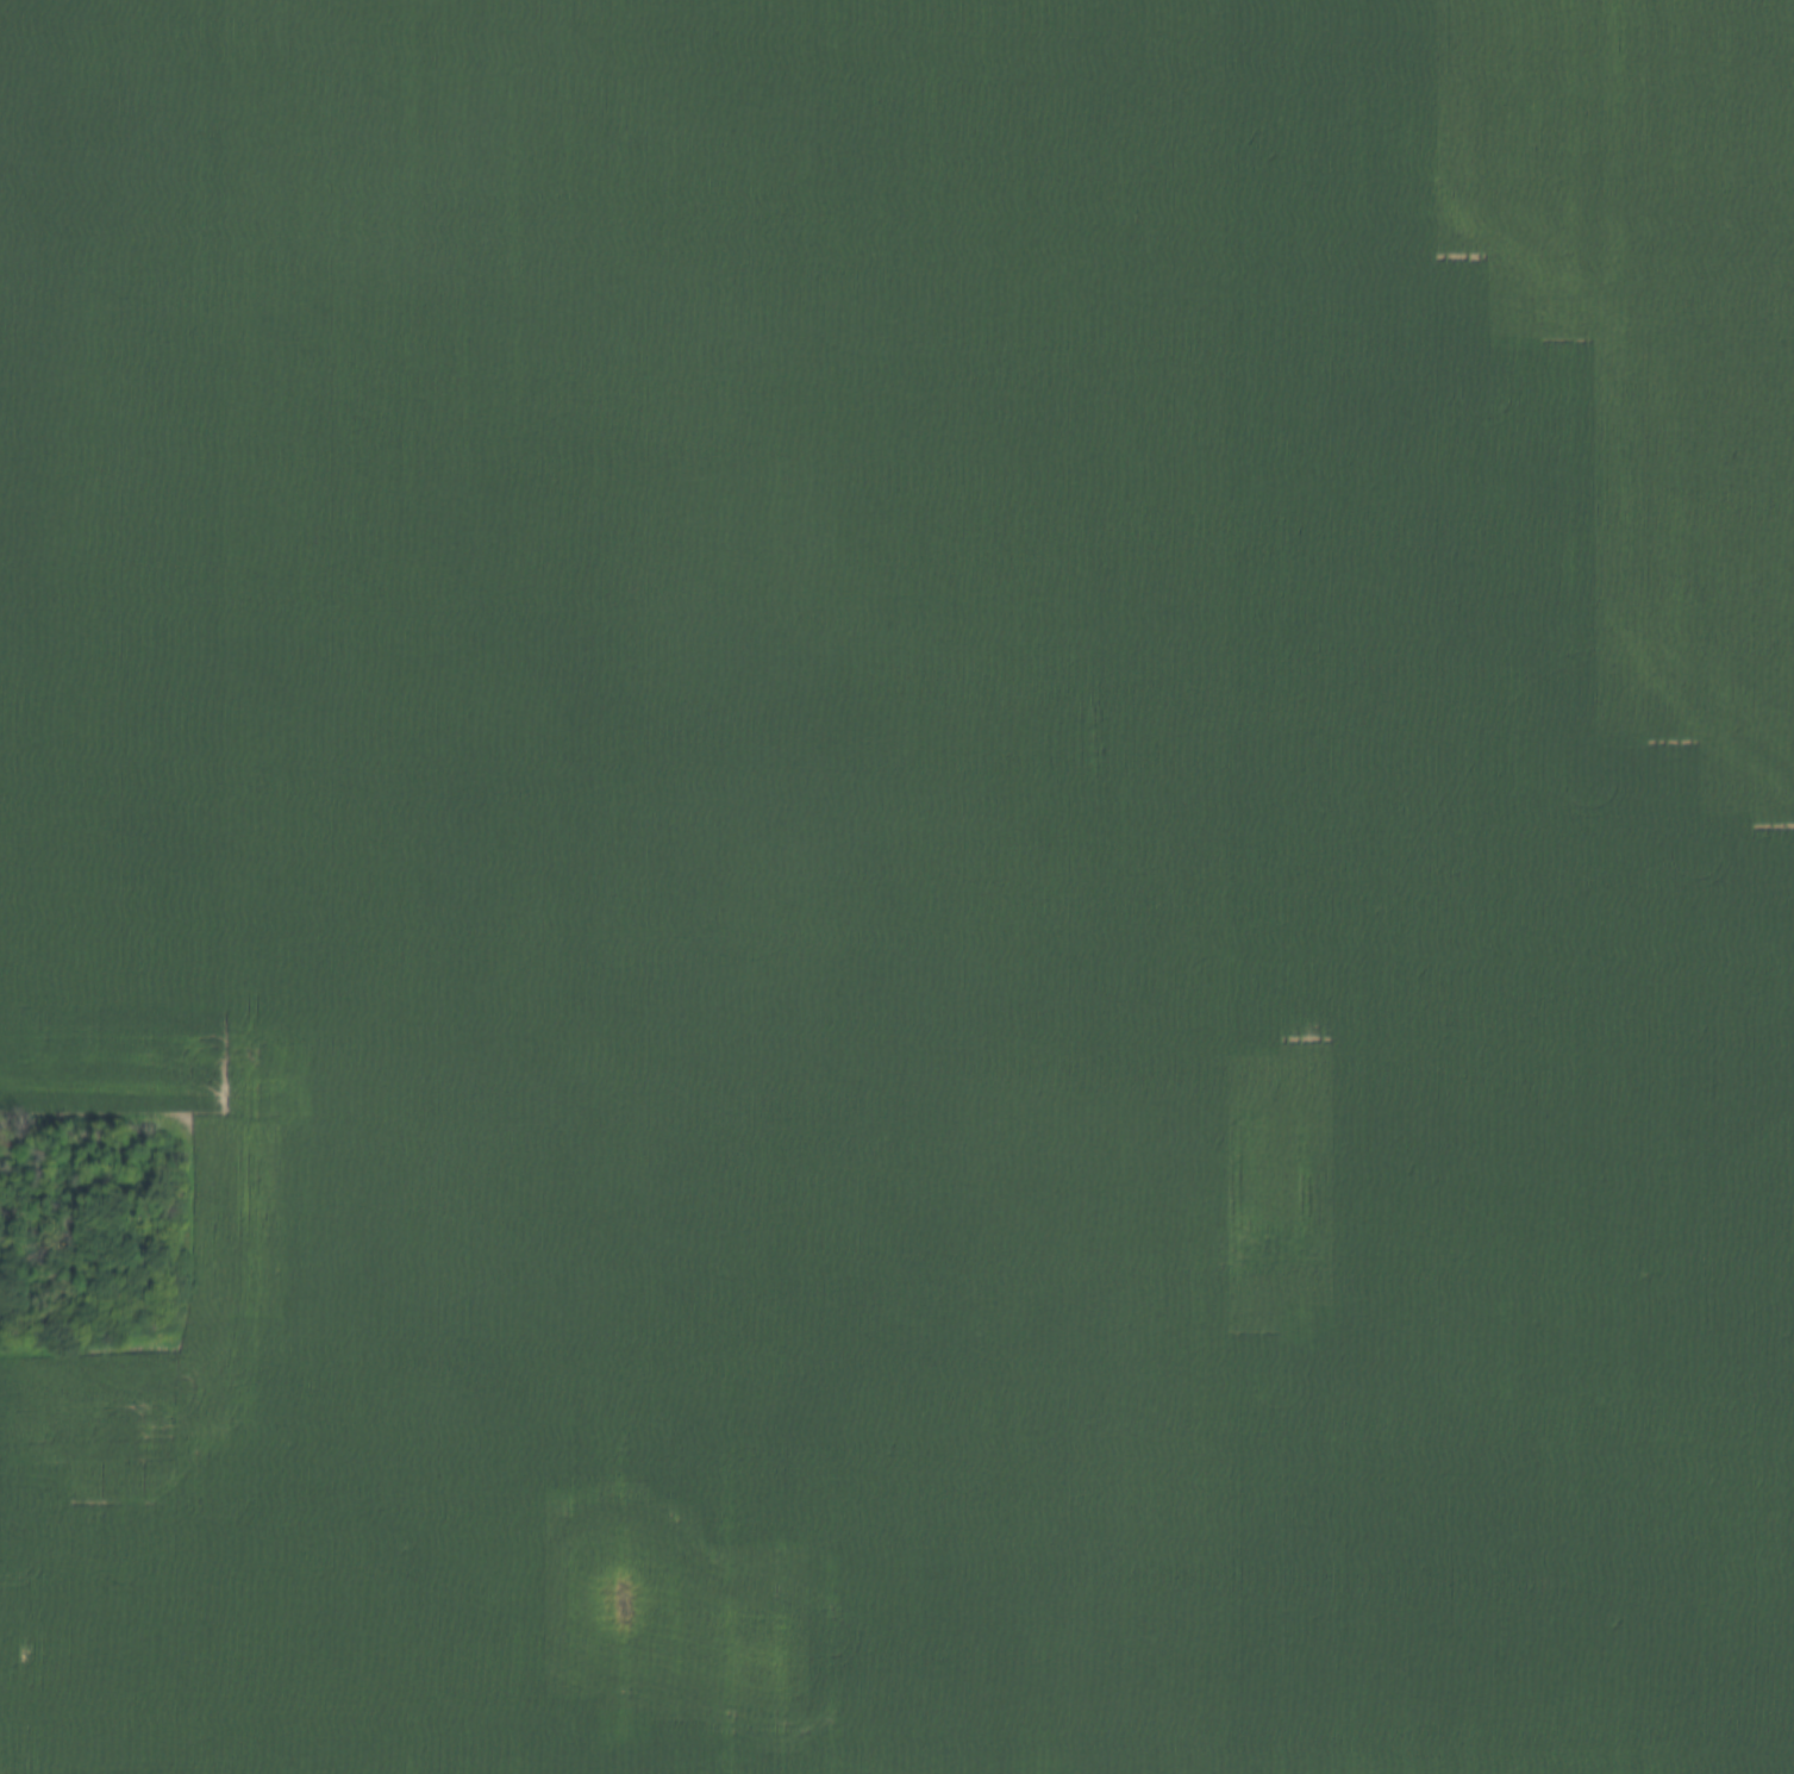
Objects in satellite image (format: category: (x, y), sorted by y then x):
building: (6, 1624)

